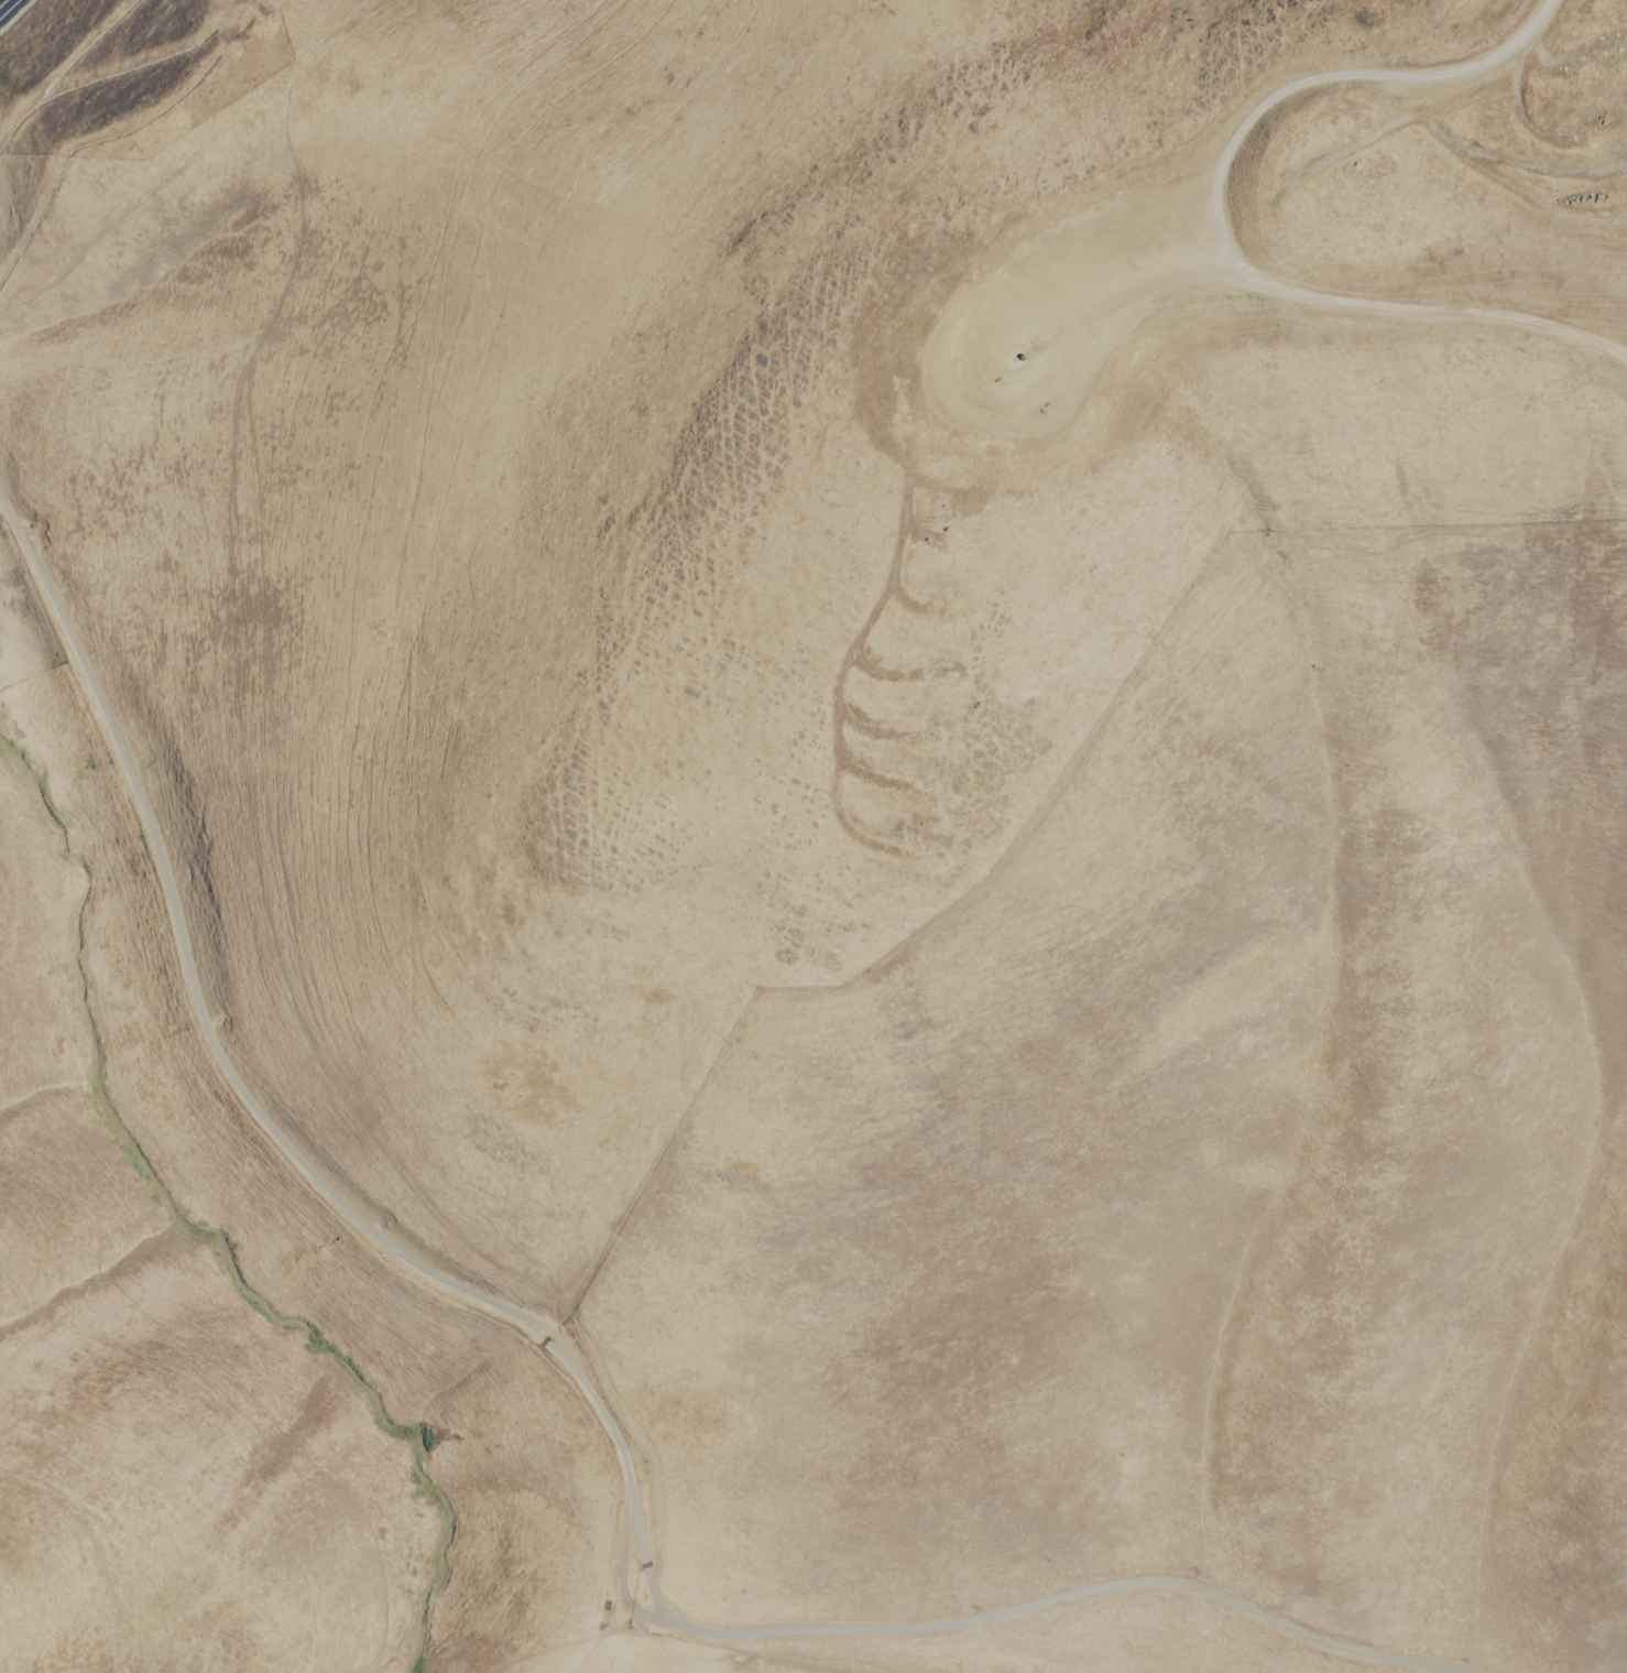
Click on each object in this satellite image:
wind turbine: (1024, 238)
road: (1100, 249)
wind turbine: (997, 294)
wind turbine: (974, 359)
wind turbine: (1003, 359)
wind turbine: (963, 415)
wind turbine: (950, 486)
wind turbine: (939, 548)
wind turbine: (935, 610)
wind turbine: (935, 676)
wind turbine: (931, 740)
wind turbine: (927, 808)
road: (577, 1377)

